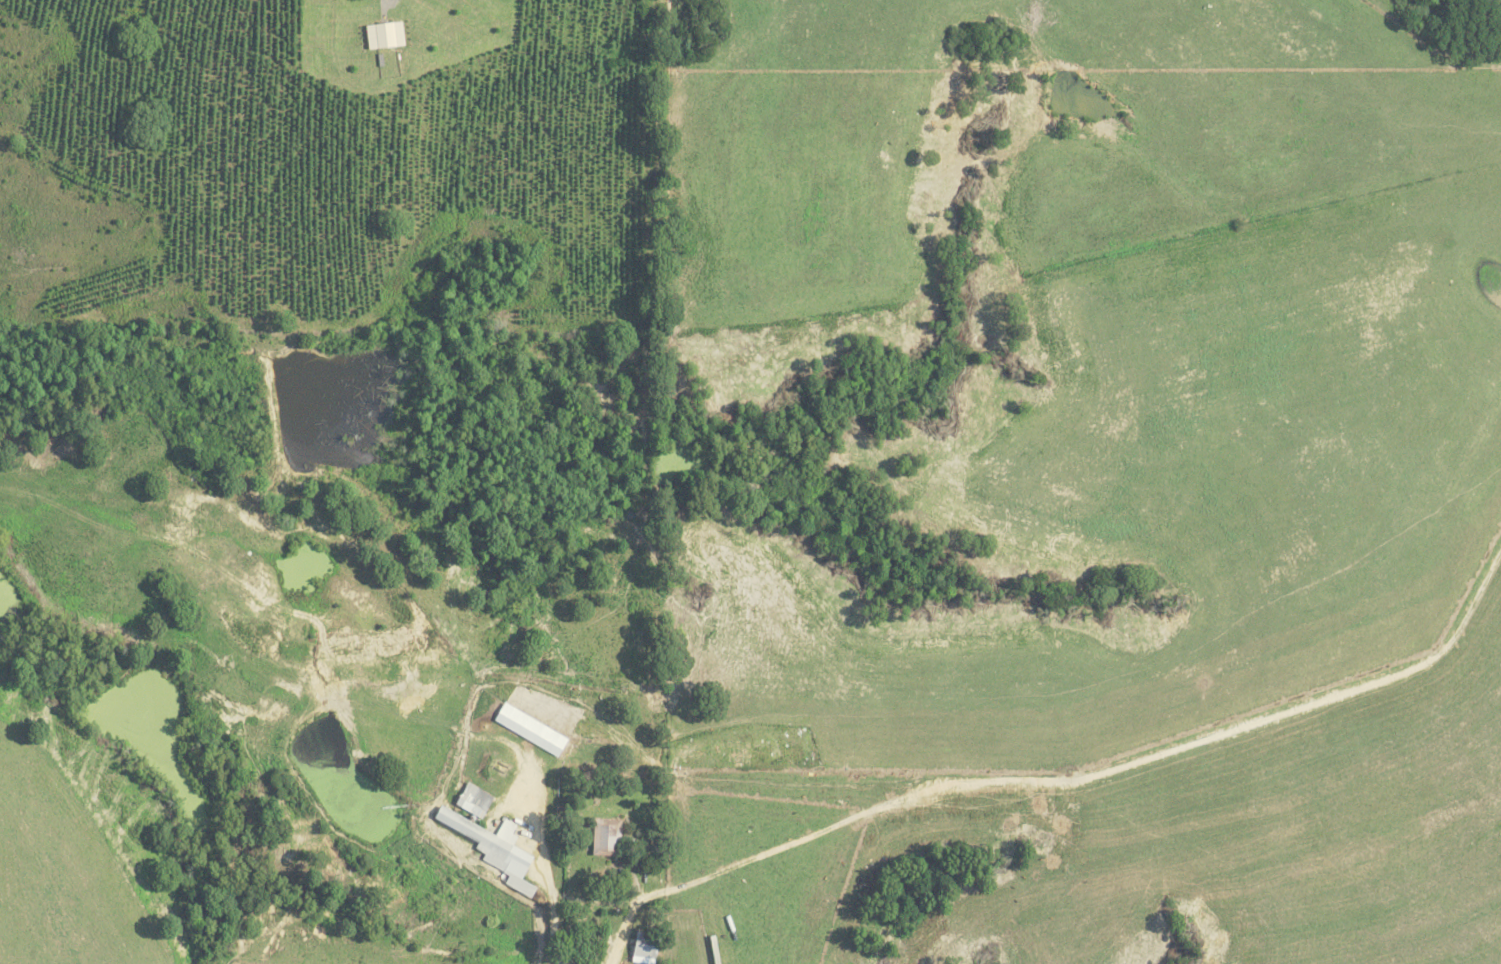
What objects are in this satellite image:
building: (381, 34)
building: (527, 729)
building: (470, 800)
building: (603, 837)
building: (490, 848)
road: (637, 879)
building: (641, 949)

